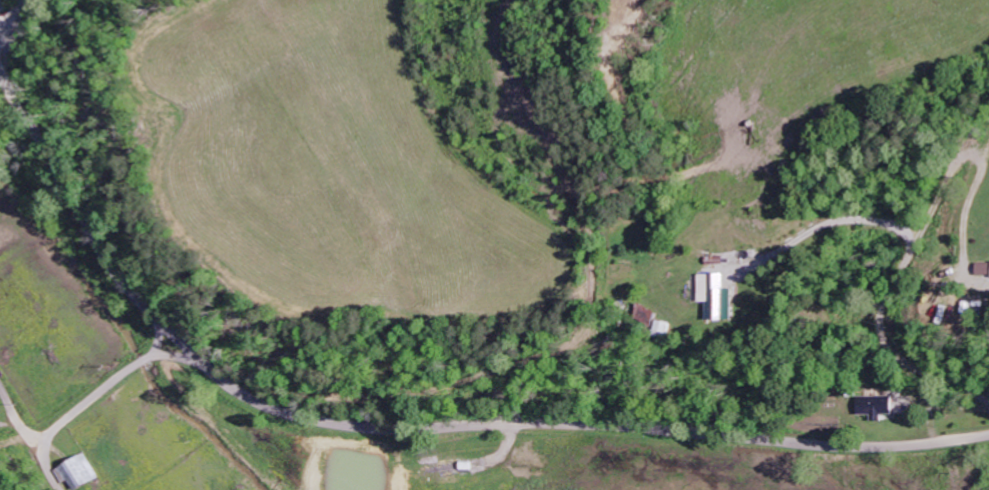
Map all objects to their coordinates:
road: (21, 5)
road: (14, 18)
building: (985, 269)
building: (722, 297)
road: (167, 333)
road: (96, 394)
building: (876, 406)
road: (402, 429)
building: (442, 470)
building: (77, 473)

